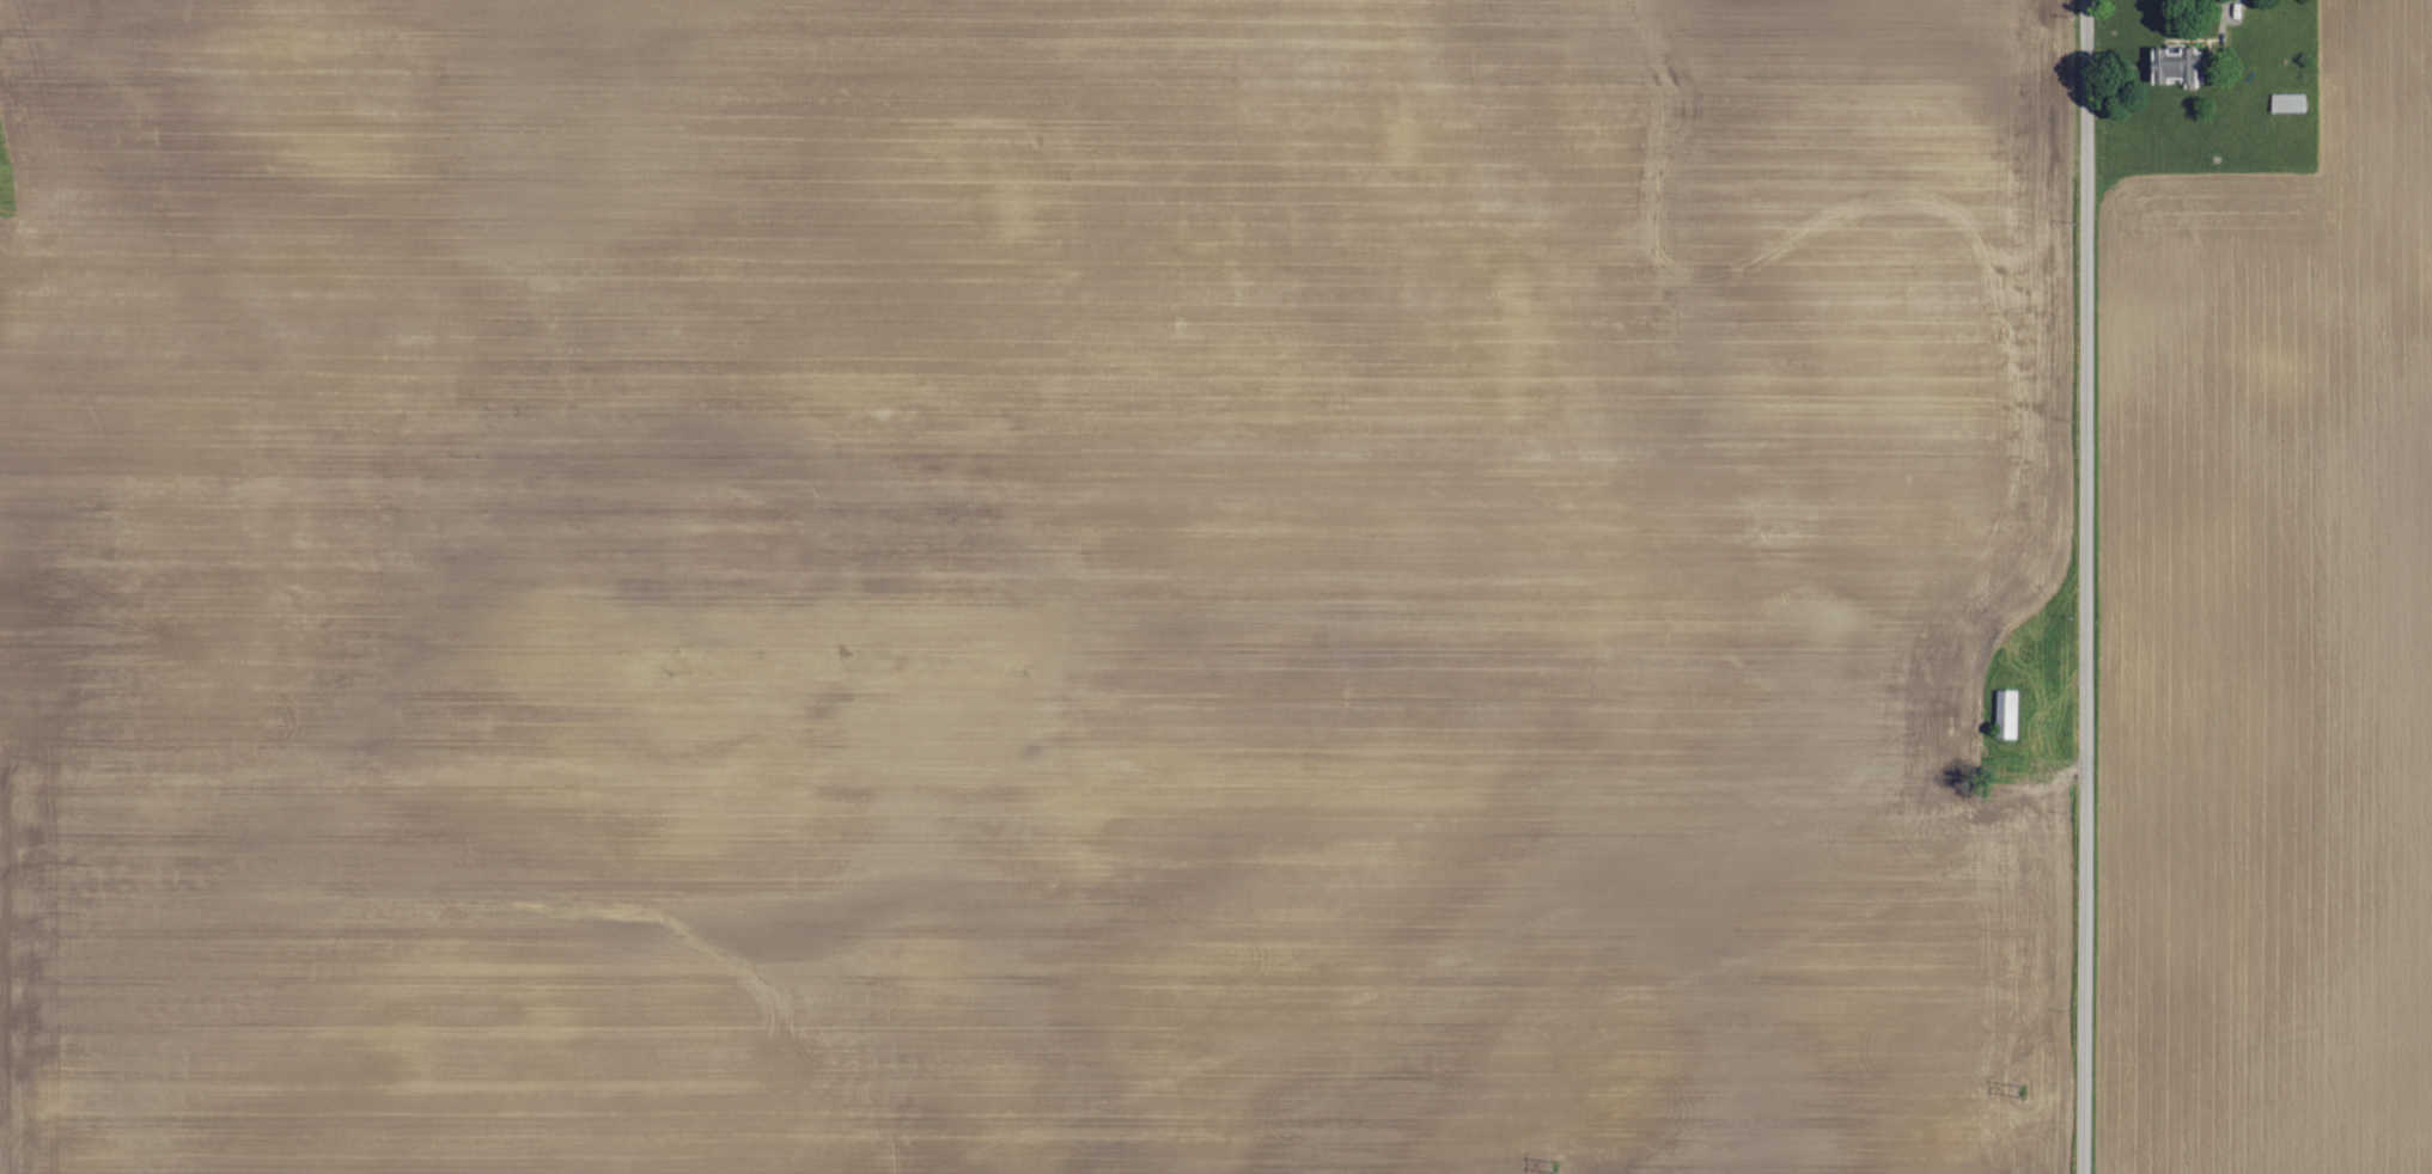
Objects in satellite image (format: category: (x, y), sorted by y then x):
building: (2178, 67)
building: (2287, 102)
road: (2089, 587)
crop: (2268, 641)
building: (2006, 715)
power tower: (2024, 1086)

